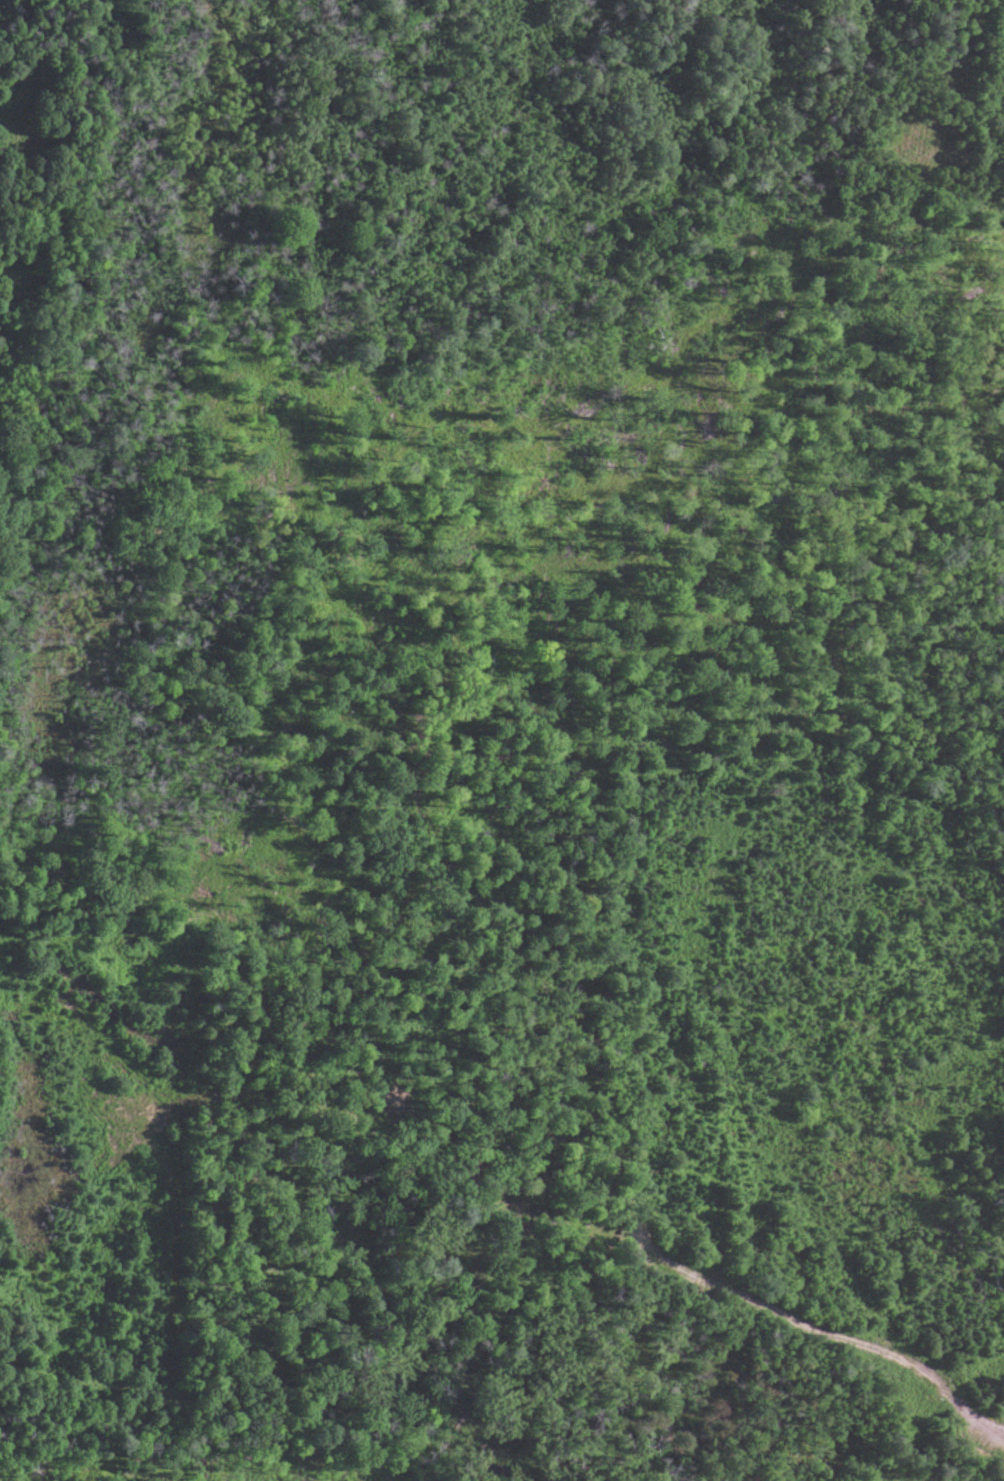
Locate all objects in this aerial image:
road: (818, 477)

